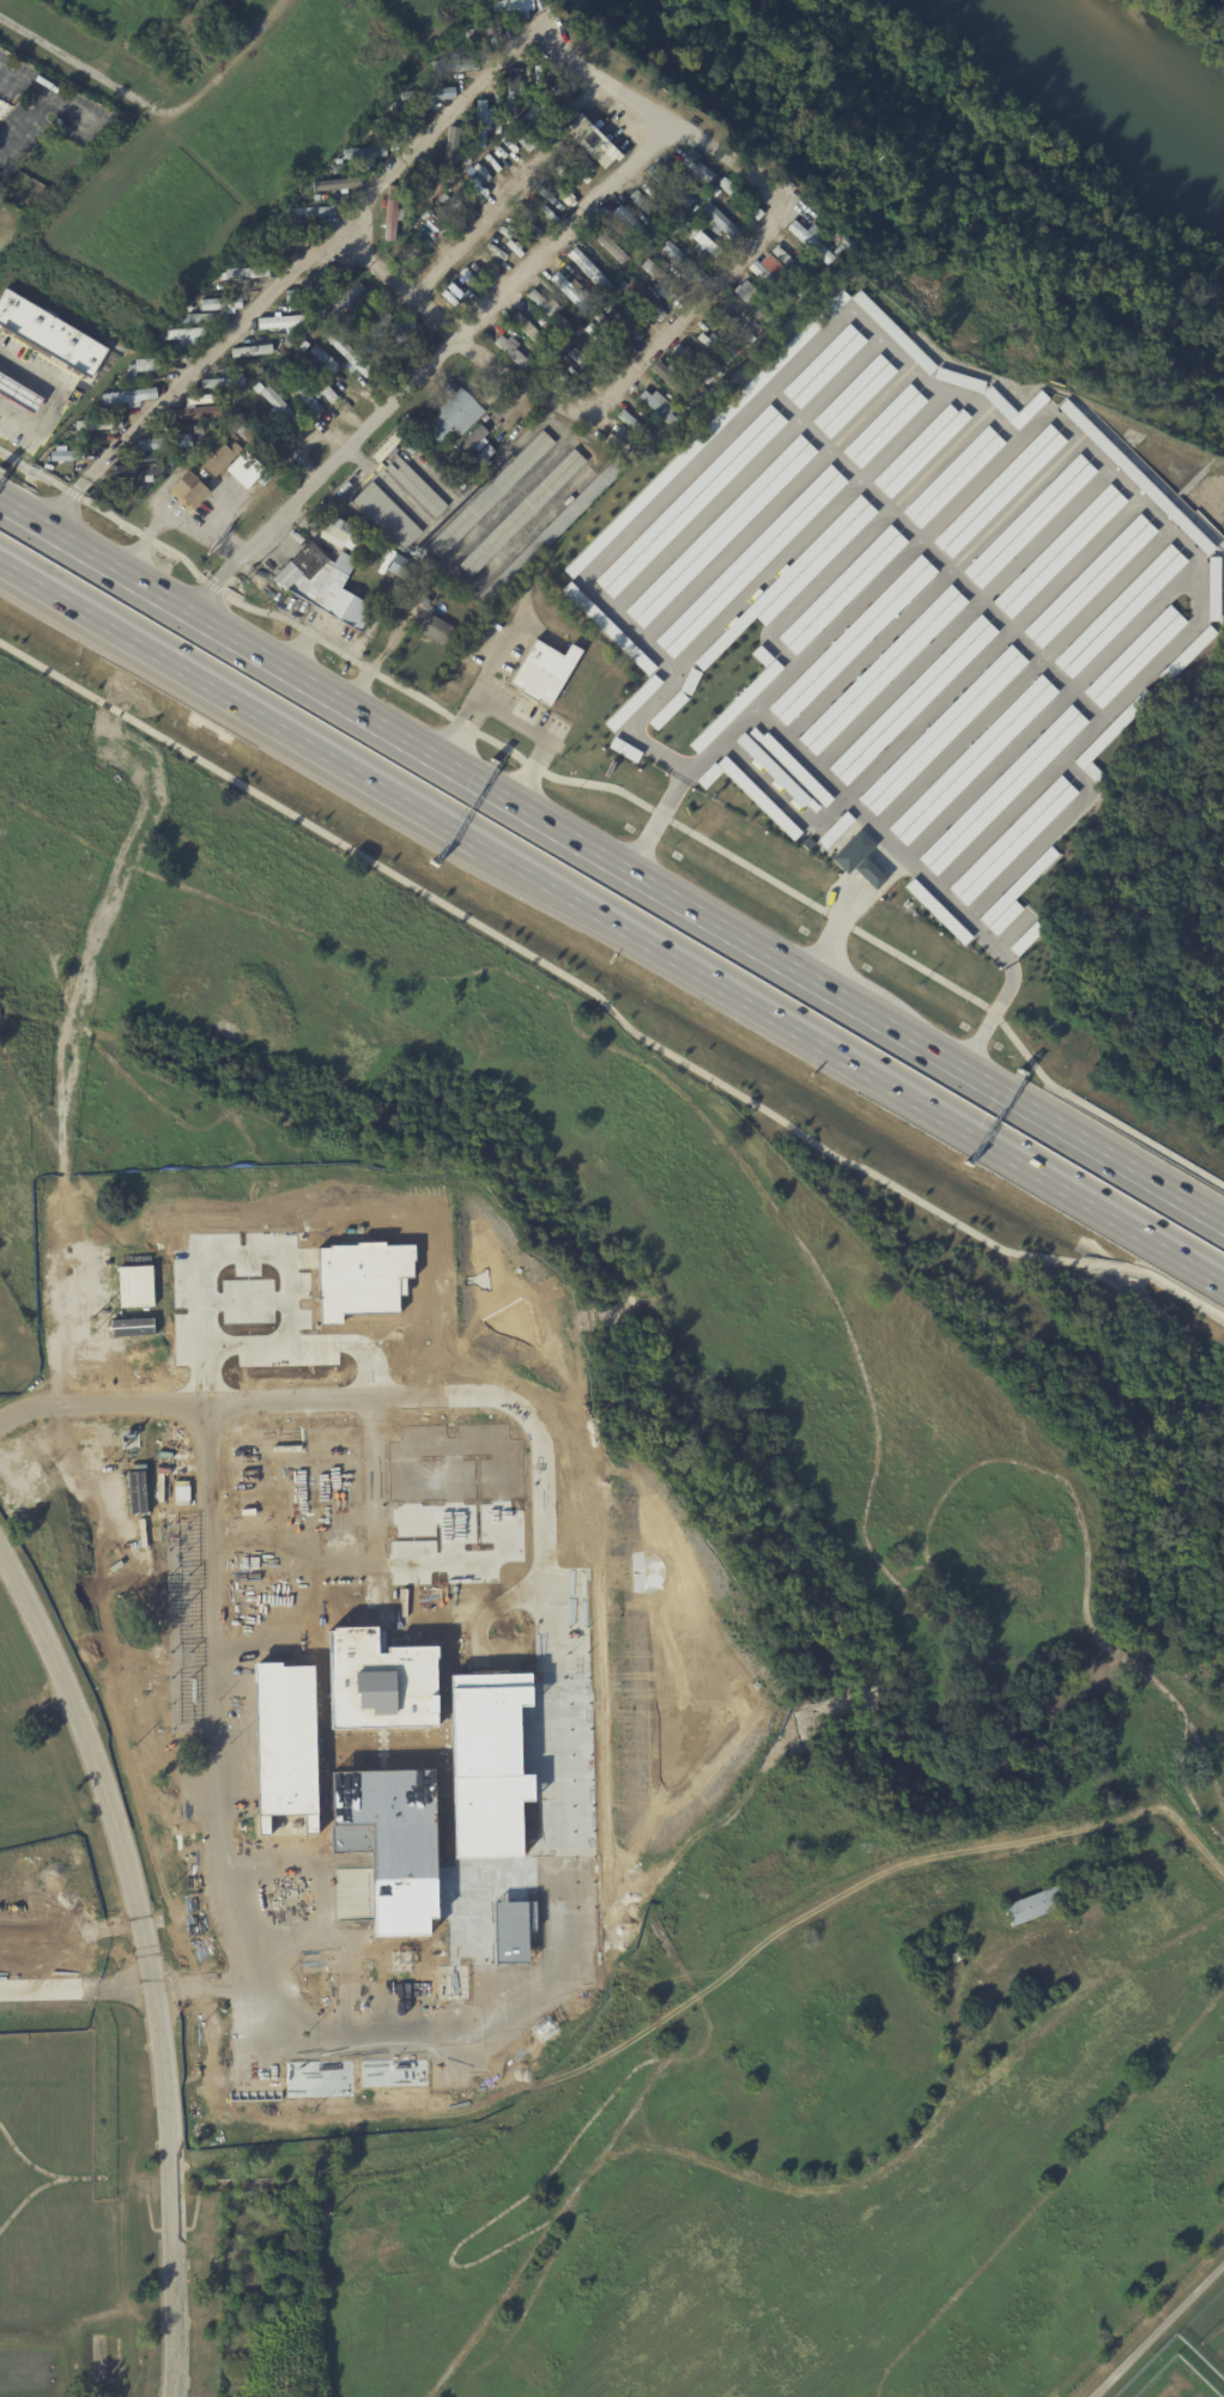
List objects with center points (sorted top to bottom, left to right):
building: (511, 6)
building: (483, 34)
building: (453, 54)
building: (455, 66)
building: (443, 77)
river: (1097, 81)
building: (537, 84)
building: (556, 92)
building: (497, 93)
building: (514, 93)
building: (425, 95)
building: (396, 123)
building: (692, 123)
building: (484, 125)
building: (526, 127)
building: (590, 141)
building: (388, 148)
building: (450, 154)
building: (363, 157)
building: (466, 160)
building: (491, 163)
road: (395, 165)
building: (697, 166)
building: (422, 182)
building: (335, 184)
building: (668, 184)
building: (477, 187)
building: (740, 199)
building: (447, 208)
building: (649, 211)
building: (521, 212)
building: (308, 213)
building: (392, 216)
building: (623, 218)
building: (716, 219)
building: (634, 226)
building: (673, 229)
building: (811, 239)
building: (702, 241)
building: (608, 243)
building: (483, 263)
building: (685, 263)
building: (788, 263)
building: (592, 273)
building: (243, 274)
building: (468, 277)
building: (663, 281)
building: (770, 283)
building: (619, 286)
building: (570, 291)
building: (761, 291)
building: (311, 293)
building: (750, 301)
building: (347, 302)
building: (643, 303)
building: (219, 304)
building: (777, 307)
building: (549, 311)
building: (315, 315)
building: (372, 321)
building: (284, 322)
building: (624, 324)
building: (527, 327)
building: (734, 327)
building: (892, 332)
building: (49, 334)
building: (182, 334)
building: (557, 339)
building: (285, 342)
building: (395, 342)
building: (604, 344)
building: (715, 347)
building: (250, 352)
building: (511, 353)
building: (733, 354)
building: (321, 356)
building: (353, 359)
building: (692, 363)
building: (349, 364)
building: (153, 365)
road: (426, 365)
building: (584, 365)
building: (823, 365)
building: (958, 378)
building: (223, 383)
building: (317, 383)
building: (565, 383)
building: (673, 383)
building: (18, 390)
building: (853, 395)
building: (128, 396)
building: (198, 399)
building: (307, 399)
road: (53, 400)
building: (999, 405)
building: (279, 406)
building: (659, 406)
building: (193, 414)
building: (453, 418)
building: (97, 425)
building: (883, 425)
building: (635, 426)
road: (1029, 426)
road: (964, 429)
building: (707, 431)
building: (471, 438)
road: (577, 439)
building: (623, 442)
building: (164, 443)
road: (715, 444)
building: (387, 448)
building: (919, 449)
building: (481, 454)
building: (60, 455)
building: (151, 455)
building: (218, 459)
building: (137, 471)
building: (244, 471)
road: (745, 474)
building: (1133, 474)
building: (952, 475)
building: (132, 484)
building: (416, 487)
building: (999, 490)
building: (188, 491)
building: (490, 494)
building: (691, 500)
road: (775, 504)
building: (522, 514)
building: (387, 516)
building: (1029, 520)
building: (555, 529)
building: (719, 529)
road: (807, 533)
building: (337, 535)
building: (1059, 550)
road: (904, 553)
road: (933, 556)
road: (840, 558)
building: (750, 559)
building: (398, 569)
building: (794, 574)
road: (1122, 574)
building: (1089, 579)
building: (323, 584)
road: (931, 588)
building: (1212, 588)
building: (841, 589)
parking lot: (896, 606)
building: (1119, 609)
road: (962, 618)
building: (607, 627)
road: (628, 629)
building: (435, 631)
building: (850, 639)
road: (1169, 647)
building: (1187, 653)
building: (761, 655)
building: (1133, 656)
road: (497, 657)
building: (883, 669)
building: (544, 672)
building: (689, 680)
road: (776, 687)
building: (913, 699)
road: (241, 700)
building: (632, 702)
building: (735, 705)
road: (1050, 706)
road: (931, 708)
building: (666, 710)
road: (511, 722)
road: (976, 724)
building: (943, 729)
road: (628, 733)
building: (1110, 734)
road: (717, 744)
building: (624, 750)
building: (970, 759)
building: (792, 766)
building: (775, 771)
building: (708, 775)
building: (1002, 788)
road: (626, 794)
building: (758, 796)
road: (846, 797)
road: (1017, 803)
road: (653, 826)
building: (835, 829)
building: (1011, 839)
road: (1038, 839)
building: (807, 843)
road: (885, 856)
building: (858, 858)
road: (612, 863)
road: (871, 874)
road: (550, 882)
building: (1013, 894)
building: (938, 911)
road: (971, 927)
road: (832, 929)
building: (1024, 939)
road: (602, 1006)
road: (992, 1019)
road: (799, 1030)
road: (1103, 1208)
building: (366, 1282)
building: (139, 1288)
road: (454, 1398)
building: (389, 1689)
airport: (552, 1697)
road: (216, 1715)
building: (290, 1744)
building: (497, 1772)
building: (396, 1850)
building: (1032, 1906)
building: (1070, 1931)
building: (516, 1938)
building: (957, 1958)
road: (147, 1960)
road: (1157, 2330)

